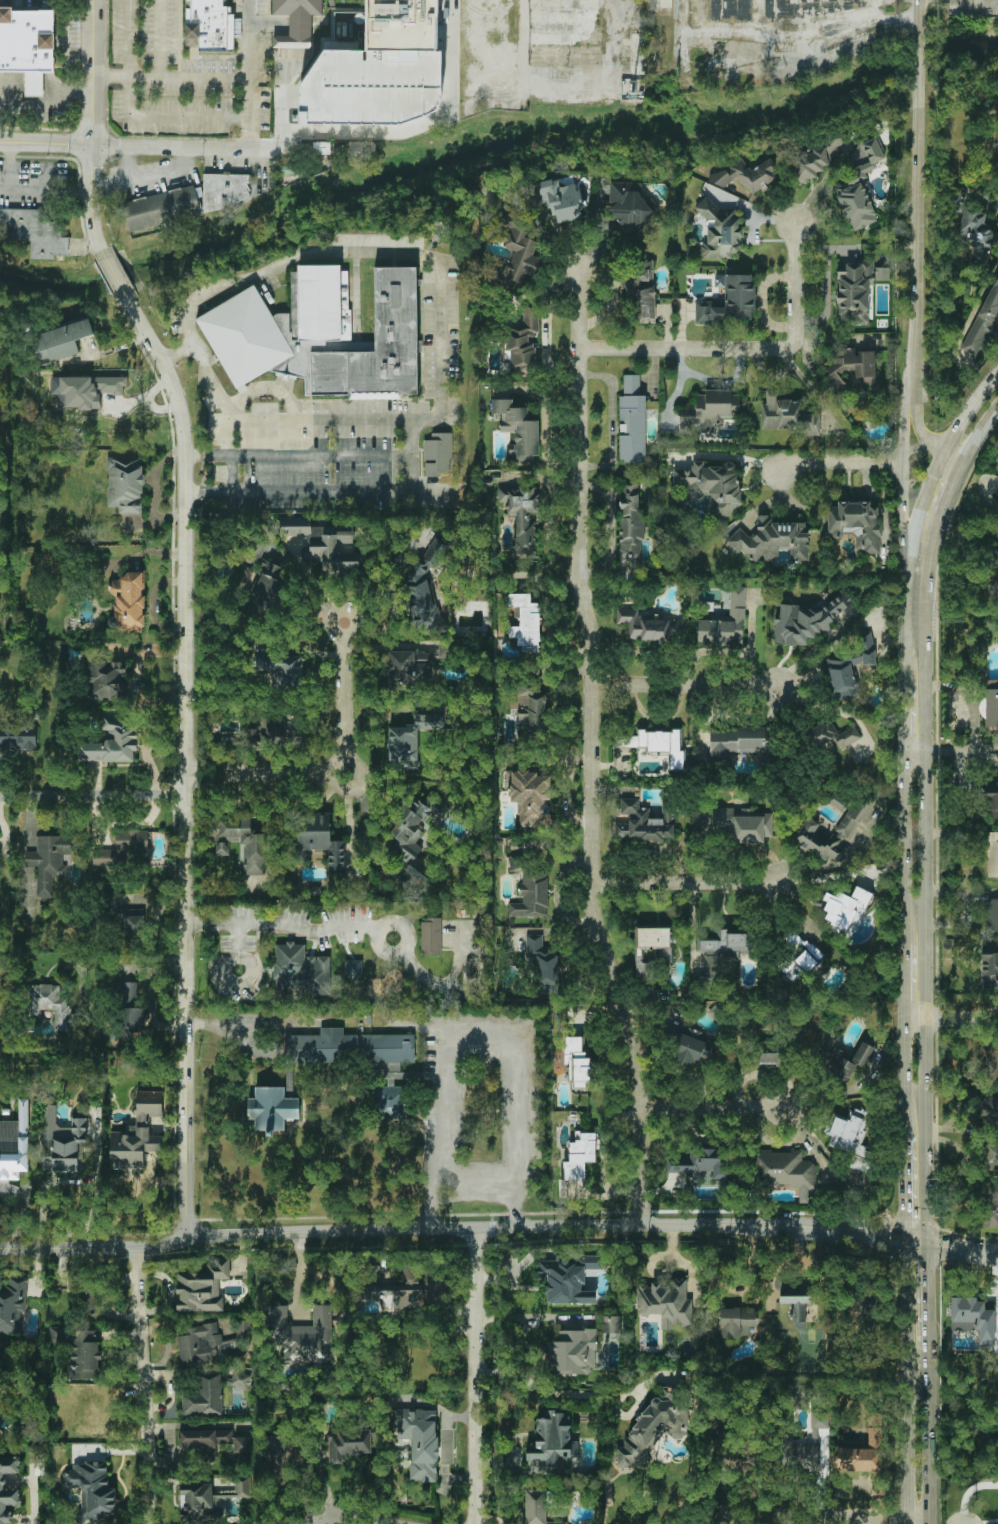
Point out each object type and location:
building: (810, 6)
building: (296, 21)
building: (211, 26)
building: (28, 46)
building: (379, 70)
road: (109, 73)
road: (249, 75)
road: (44, 104)
road: (130, 114)
road: (409, 127)
road: (92, 129)
road: (45, 146)
road: (218, 150)
building: (818, 157)
road: (9, 169)
building: (749, 176)
road: (915, 178)
building: (485, 183)
building: (860, 186)
road: (36, 192)
building: (561, 200)
building: (629, 203)
building: (163, 207)
building: (35, 230)
building: (720, 231)
building: (974, 232)
road: (86, 245)
building: (516, 247)
road: (323, 250)
road: (115, 277)
building: (639, 290)
building: (857, 290)
building: (731, 302)
building: (984, 321)
building: (322, 336)
building: (61, 340)
building: (523, 340)
road: (745, 349)
road: (177, 352)
building: (0, 371)
road: (914, 401)
road: (968, 407)
building: (709, 412)
building: (787, 416)
road: (353, 419)
road: (611, 420)
building: (632, 421)
building: (518, 429)
road: (934, 446)
road: (914, 449)
road: (951, 453)
building: (438, 455)
road: (296, 456)
road: (900, 458)
road: (840, 463)
road: (232, 474)
building: (125, 484)
building: (712, 485)
road: (315, 491)
building: (996, 491)
building: (521, 516)
building: (630, 523)
building: (855, 523)
building: (773, 540)
building: (324, 542)
building: (990, 562)
road: (905, 564)
building: (422, 590)
building: (129, 602)
building: (806, 621)
building: (526, 623)
building: (725, 623)
building: (648, 625)
road: (751, 637)
road: (813, 647)
building: (444, 650)
building: (410, 667)
building: (850, 668)
building: (283, 670)
building: (992, 684)
road: (684, 685)
building: (989, 708)
road: (838, 709)
building: (533, 711)
road: (901, 720)
building: (20, 733)
building: (275, 733)
building: (832, 736)
building: (410, 739)
building: (734, 742)
building: (112, 743)
building: (656, 743)
road: (588, 750)
road: (949, 753)
road: (183, 760)
road: (343, 774)
road: (92, 794)
building: (531, 797)
building: (991, 798)
building: (838, 801)
road: (924, 814)
building: (644, 823)
building: (743, 823)
road: (366, 824)
building: (809, 828)
building: (414, 843)
building: (318, 845)
building: (125, 850)
building: (992, 854)
building: (48, 862)
road: (684, 884)
building: (530, 890)
building: (844, 908)
building: (992, 914)
road: (234, 922)
road: (355, 926)
building: (134, 927)
building: (431, 937)
road: (902, 942)
building: (729, 943)
building: (653, 946)
road: (119, 960)
building: (542, 965)
building: (989, 965)
building: (353, 968)
building: (300, 971)
building: (126, 993)
building: (49, 1006)
road: (949, 1019)
building: (132, 1022)
road: (232, 1025)
road: (477, 1036)
building: (349, 1047)
building: (691, 1049)
building: (770, 1058)
building: (871, 1059)
building: (991, 1059)
building: (845, 1060)
building: (578, 1064)
building: (388, 1102)
building: (272, 1108)
road: (712, 1108)
building: (989, 1108)
building: (136, 1133)
building: (852, 1137)
building: (62, 1142)
building: (14, 1147)
building: (580, 1156)
building: (697, 1164)
building: (784, 1171)
road: (899, 1183)
road: (477, 1186)
road: (42, 1196)
building: (990, 1208)
road: (461, 1232)
traffic signals: (898, 1236)
traffic signals: (924, 1240)
road: (961, 1245)
building: (568, 1279)
building: (202, 1287)
building: (392, 1290)
road: (924, 1295)
building: (88, 1300)
building: (666, 1302)
building: (13, 1305)
building: (796, 1308)
road: (521, 1318)
building: (973, 1318)
building: (737, 1322)
building: (610, 1324)
building: (302, 1334)
building: (199, 1344)
building: (573, 1352)
building: (83, 1355)
building: (241, 1376)
road: (473, 1378)
road: (901, 1379)
road: (146, 1386)
road: (545, 1389)
building: (203, 1397)
building: (653, 1428)
road: (926, 1434)
building: (419, 1440)
building: (348, 1443)
building: (552, 1443)
building: (216, 1444)
building: (809, 1452)
building: (862, 1454)
building: (2, 1481)
building: (241, 1486)
building: (92, 1490)
road: (33, 1501)
building: (199, 1502)
building: (537, 1507)
road: (369, 1510)
road: (824, 1516)
road: (488, 1517)
road: (928, 1520)

